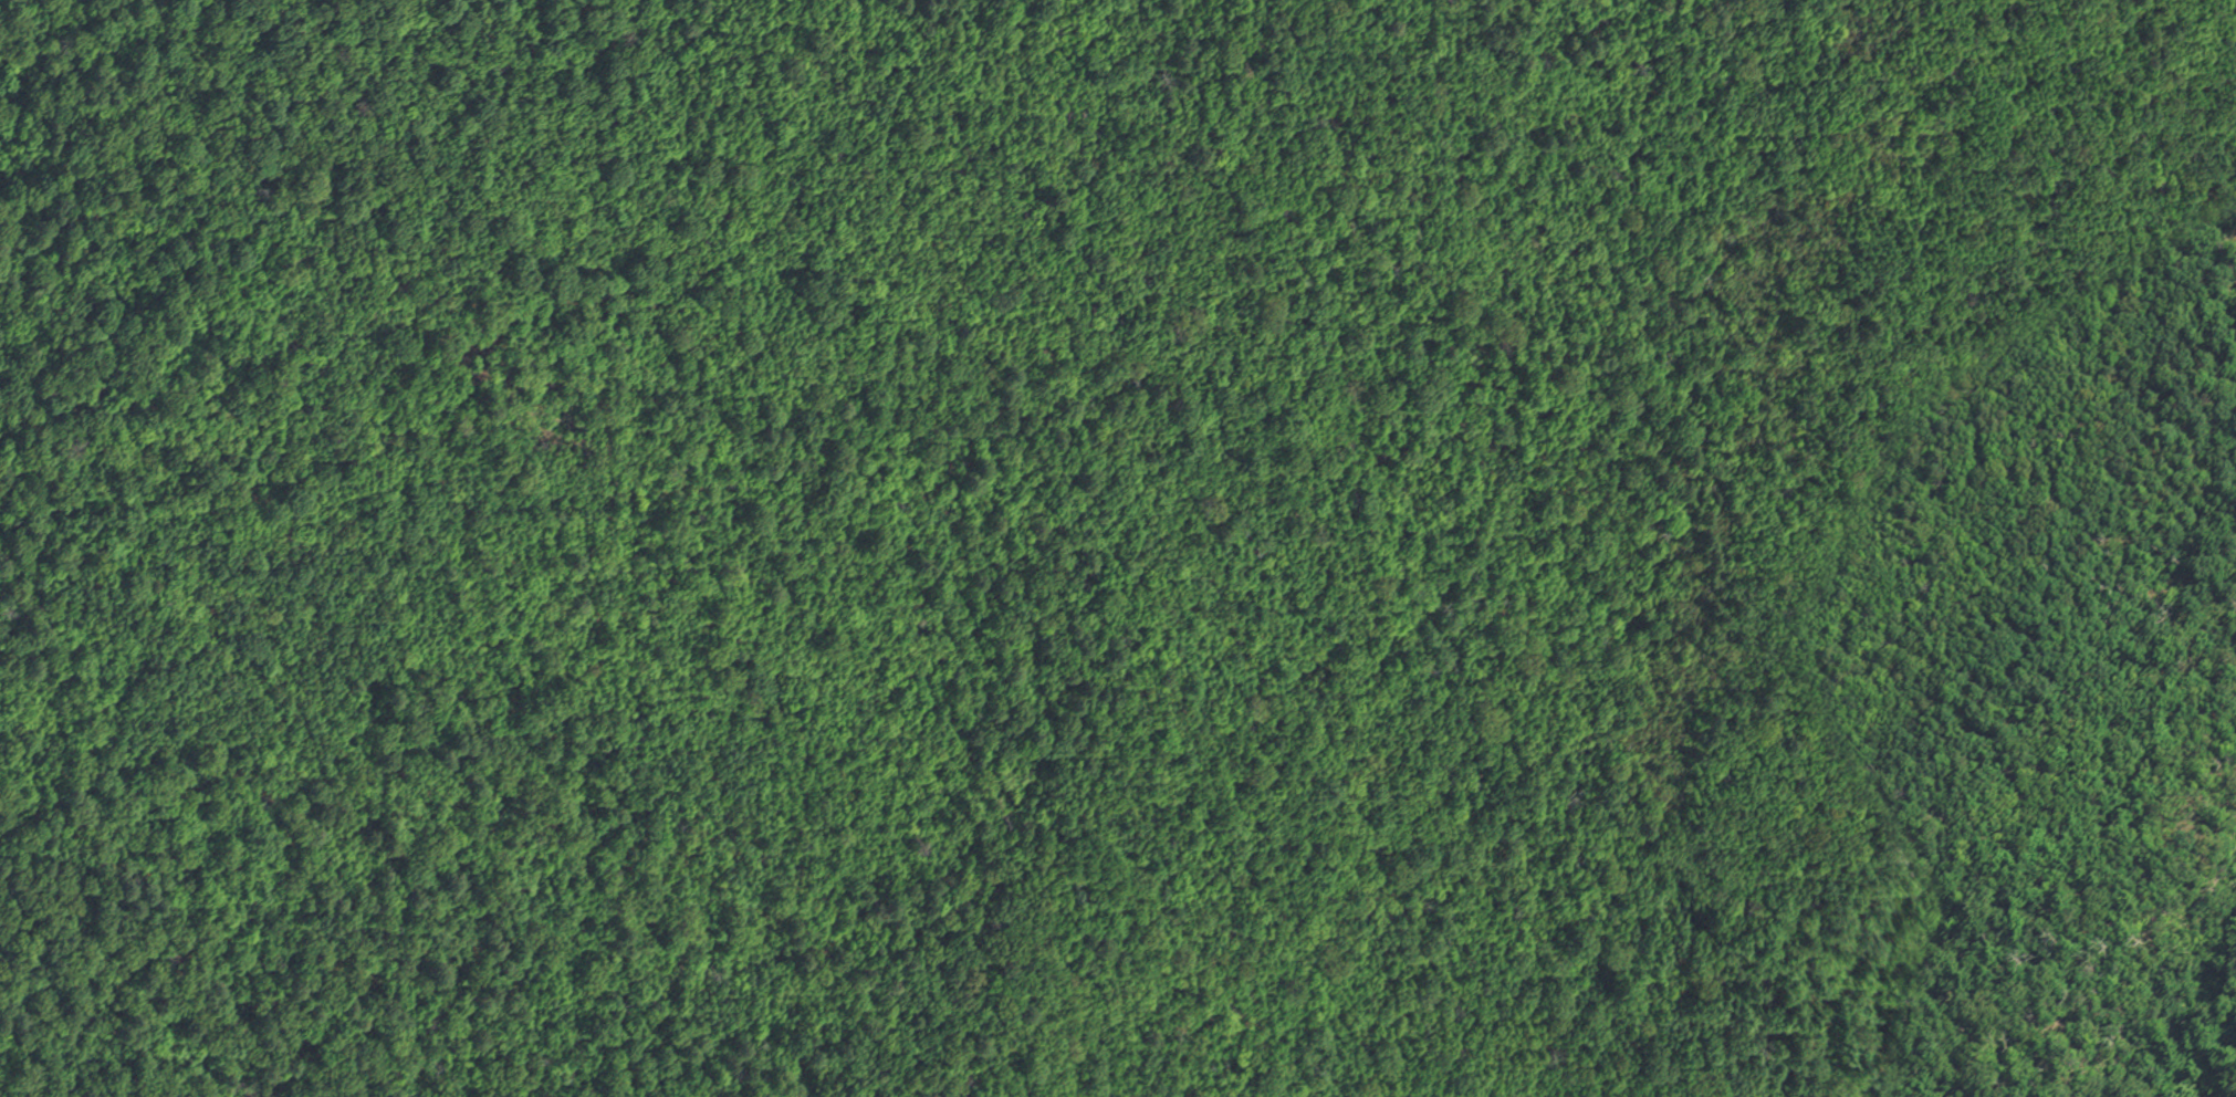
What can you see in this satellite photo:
road: (276, 385)
road: (588, 577)
road: (2101, 911)

